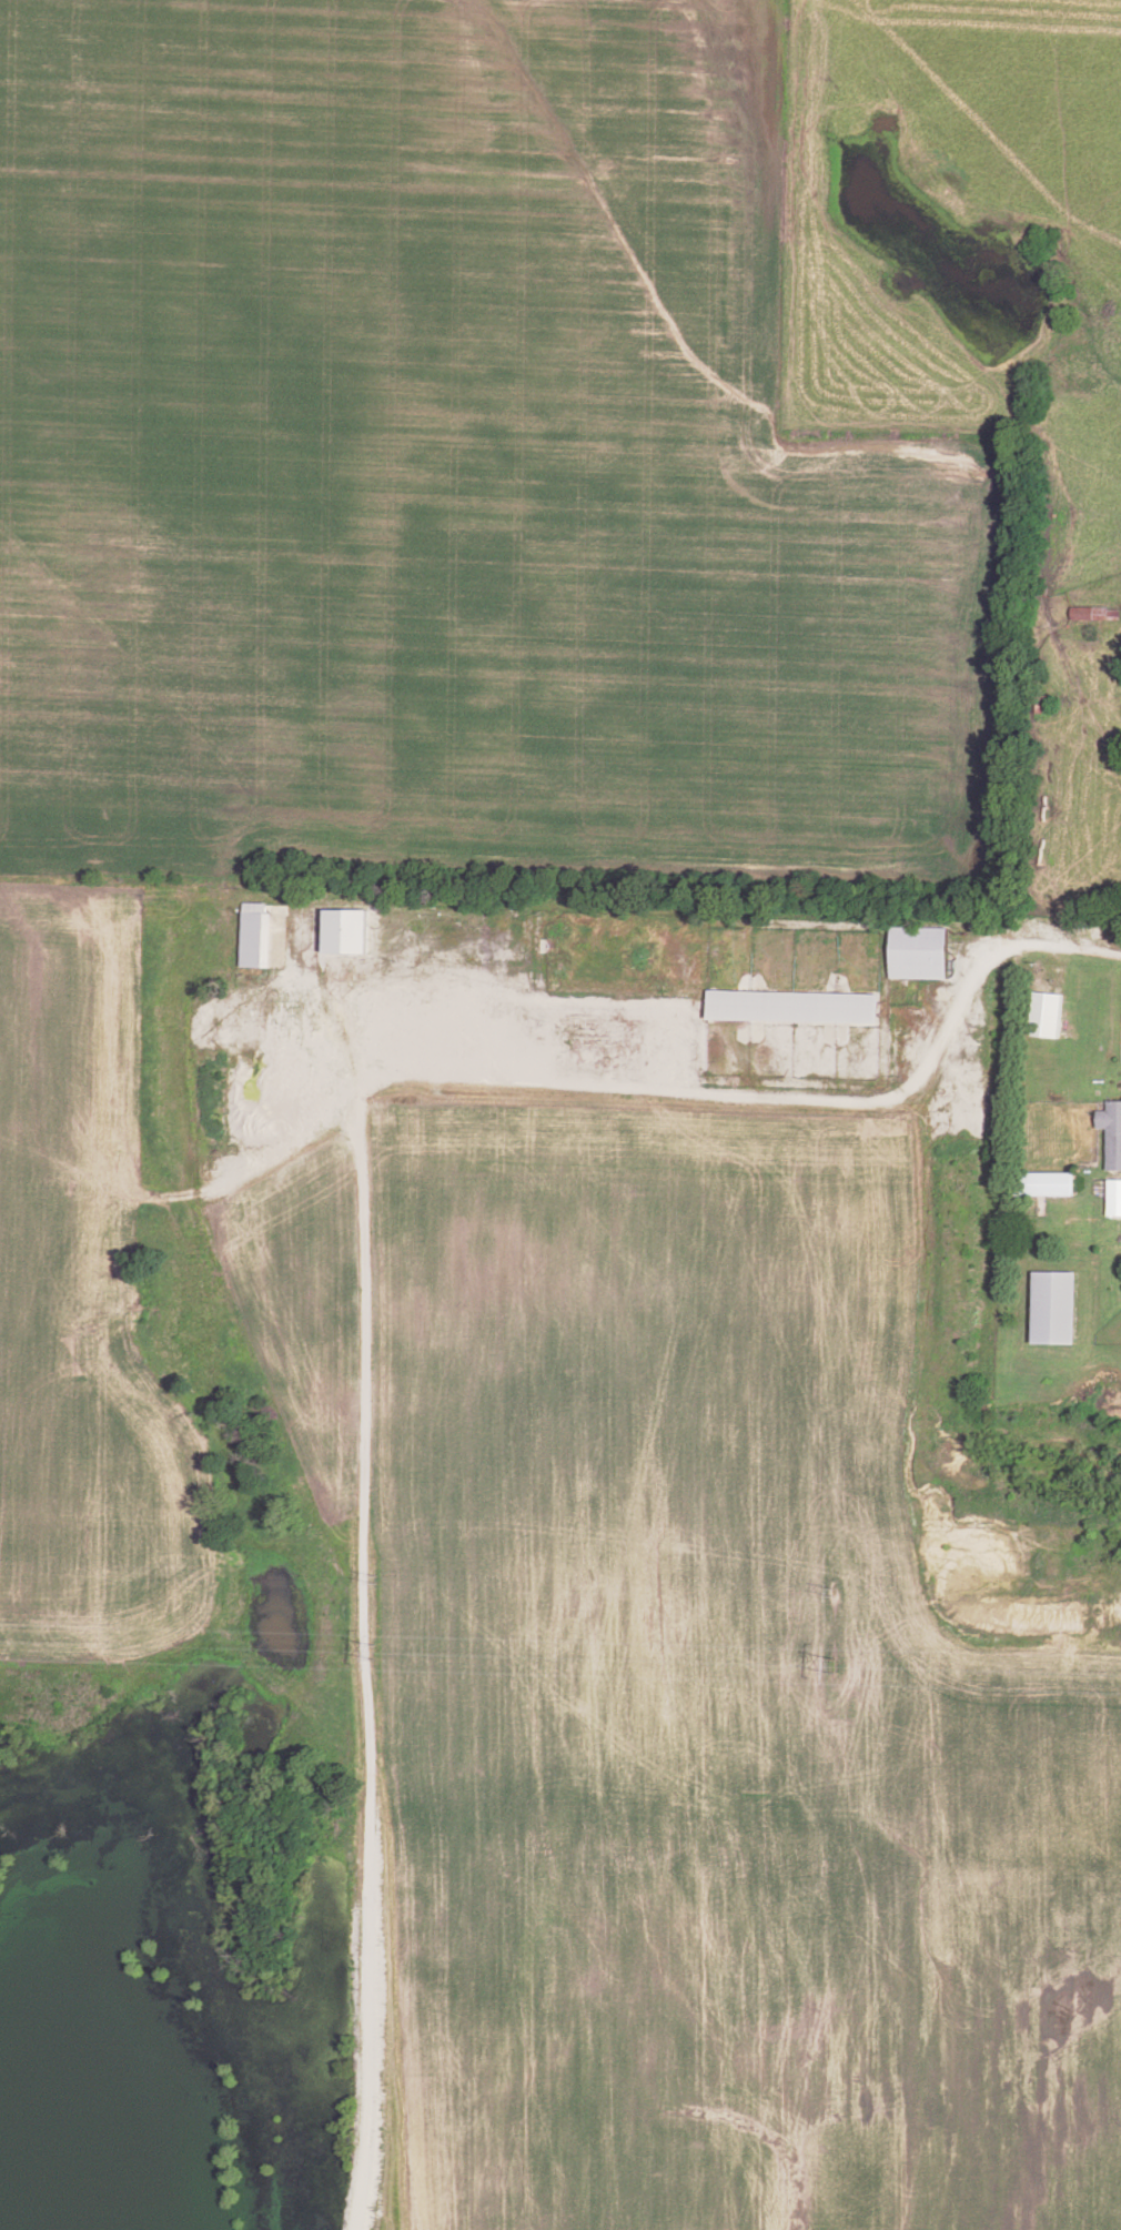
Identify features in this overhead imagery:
building: (344, 927)
building: (255, 932)
building: (917, 949)
road: (1048, 949)
building: (1044, 1011)
building: (1111, 1130)
building: (1042, 1181)
building: (1113, 1194)
building: (1052, 1304)
power tower: (377, 1576)
power tower: (837, 1590)
power tower: (374, 1653)
power tower: (840, 1665)

